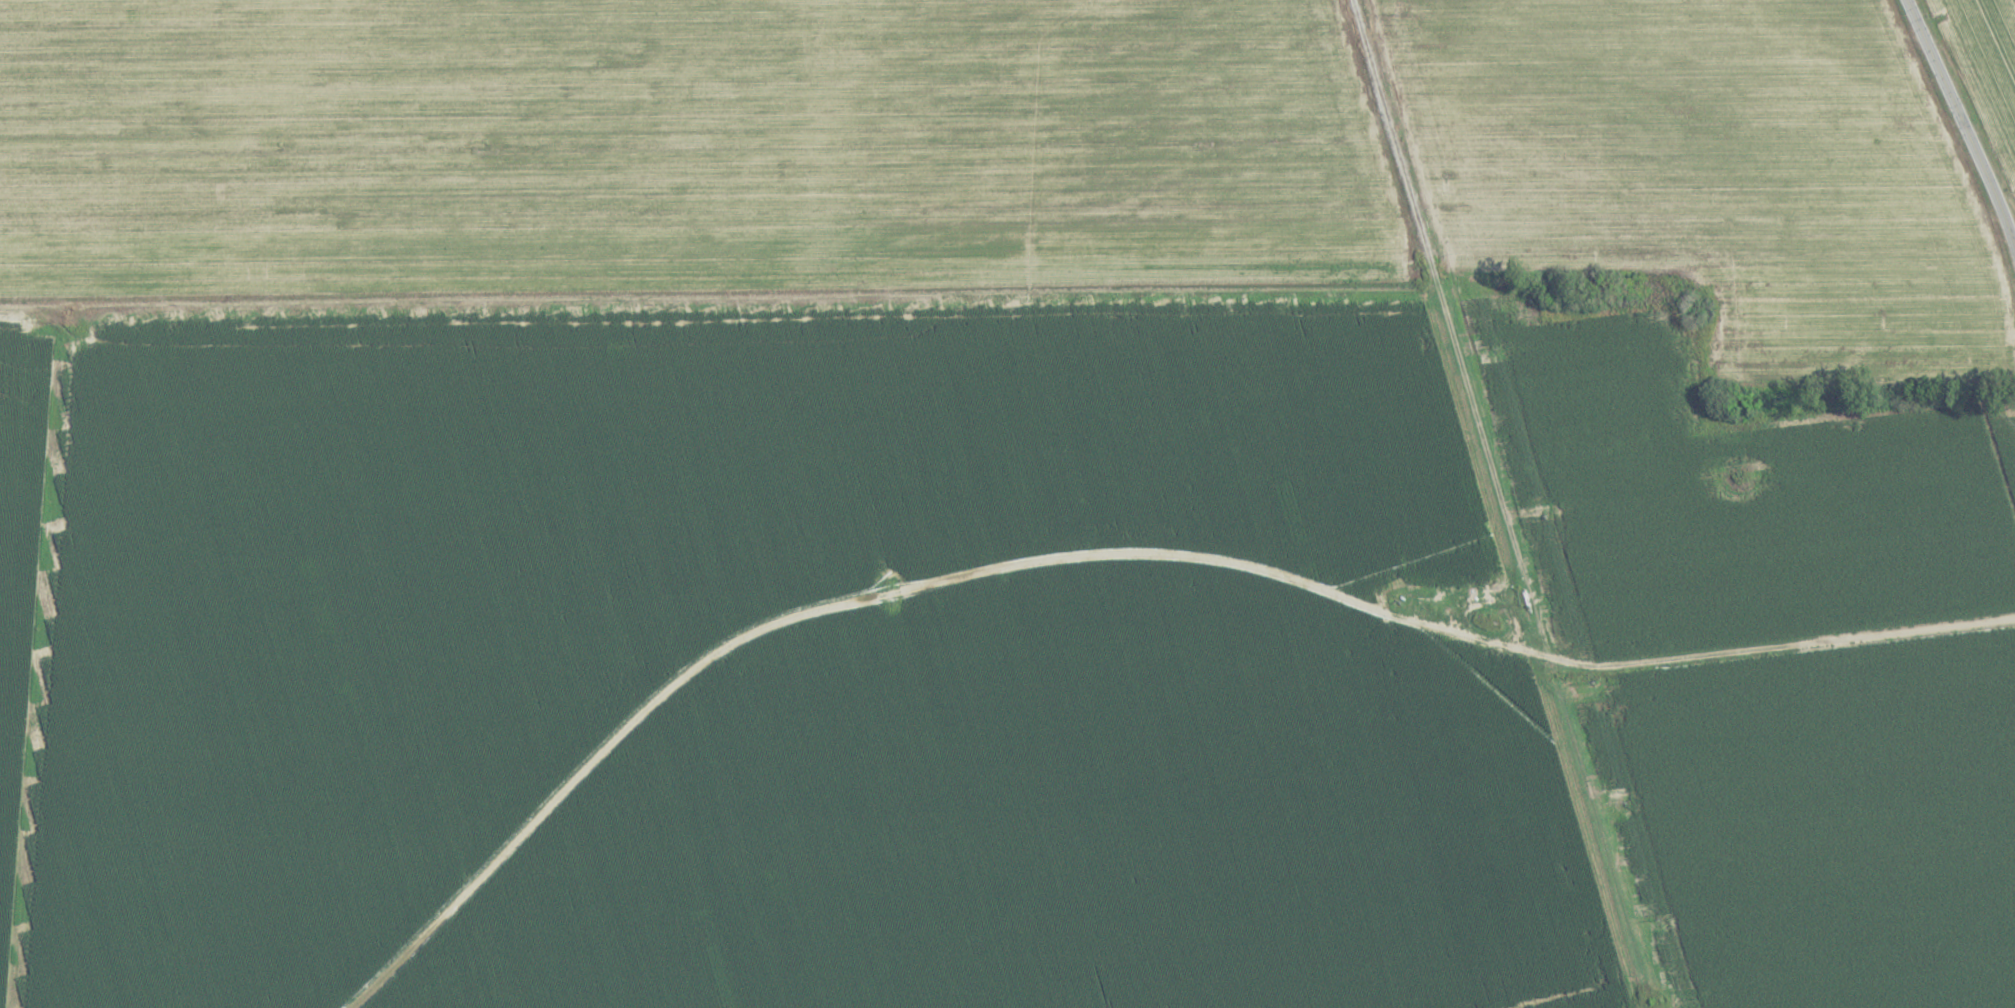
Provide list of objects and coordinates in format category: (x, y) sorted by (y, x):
road: (1961, 123)
road: (702, 294)
road: (1120, 556)

